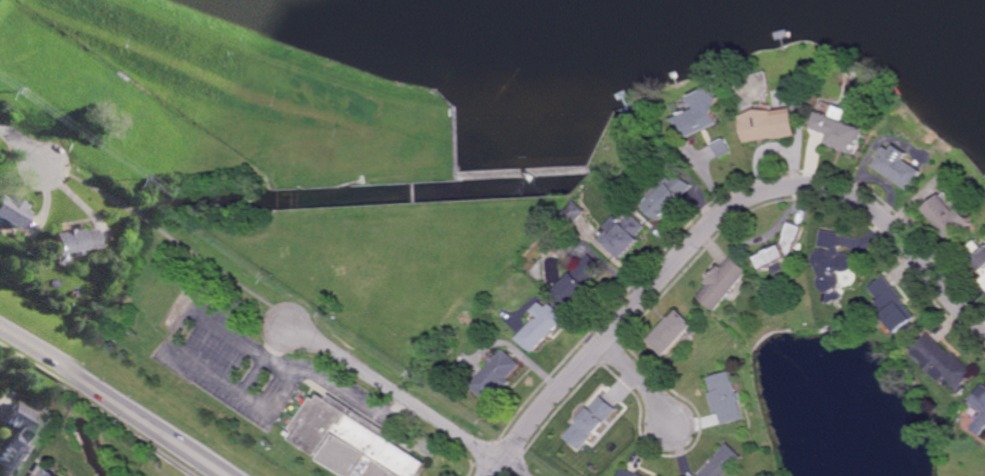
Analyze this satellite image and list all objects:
building: (702, 111)
building: (770, 121)
building: (841, 128)
road: (23, 145)
building: (725, 146)
building: (901, 165)
building: (608, 168)
dam: (531, 172)
road: (91, 187)
building: (671, 194)
building: (9, 210)
building: (574, 213)
building: (950, 216)
road: (146, 220)
road: (714, 220)
building: (628, 235)
building: (69, 240)
building: (784, 249)
building: (978, 254)
building: (573, 262)
building: (834, 264)
road: (227, 275)
building: (581, 281)
building: (984, 281)
building: (725, 282)
building: (895, 305)
building: (541, 326)
building: (672, 332)
road: (229, 334)
road: (268, 357)
building: (943, 361)
building: (497, 374)
road: (642, 379)
building: (727, 398)
road: (117, 399)
building: (980, 399)
road: (408, 401)
building: (592, 423)
building: (981, 426)
building: (618, 431)
building: (18, 438)
building: (354, 443)
building: (724, 462)
building: (55, 473)
building: (630, 473)

